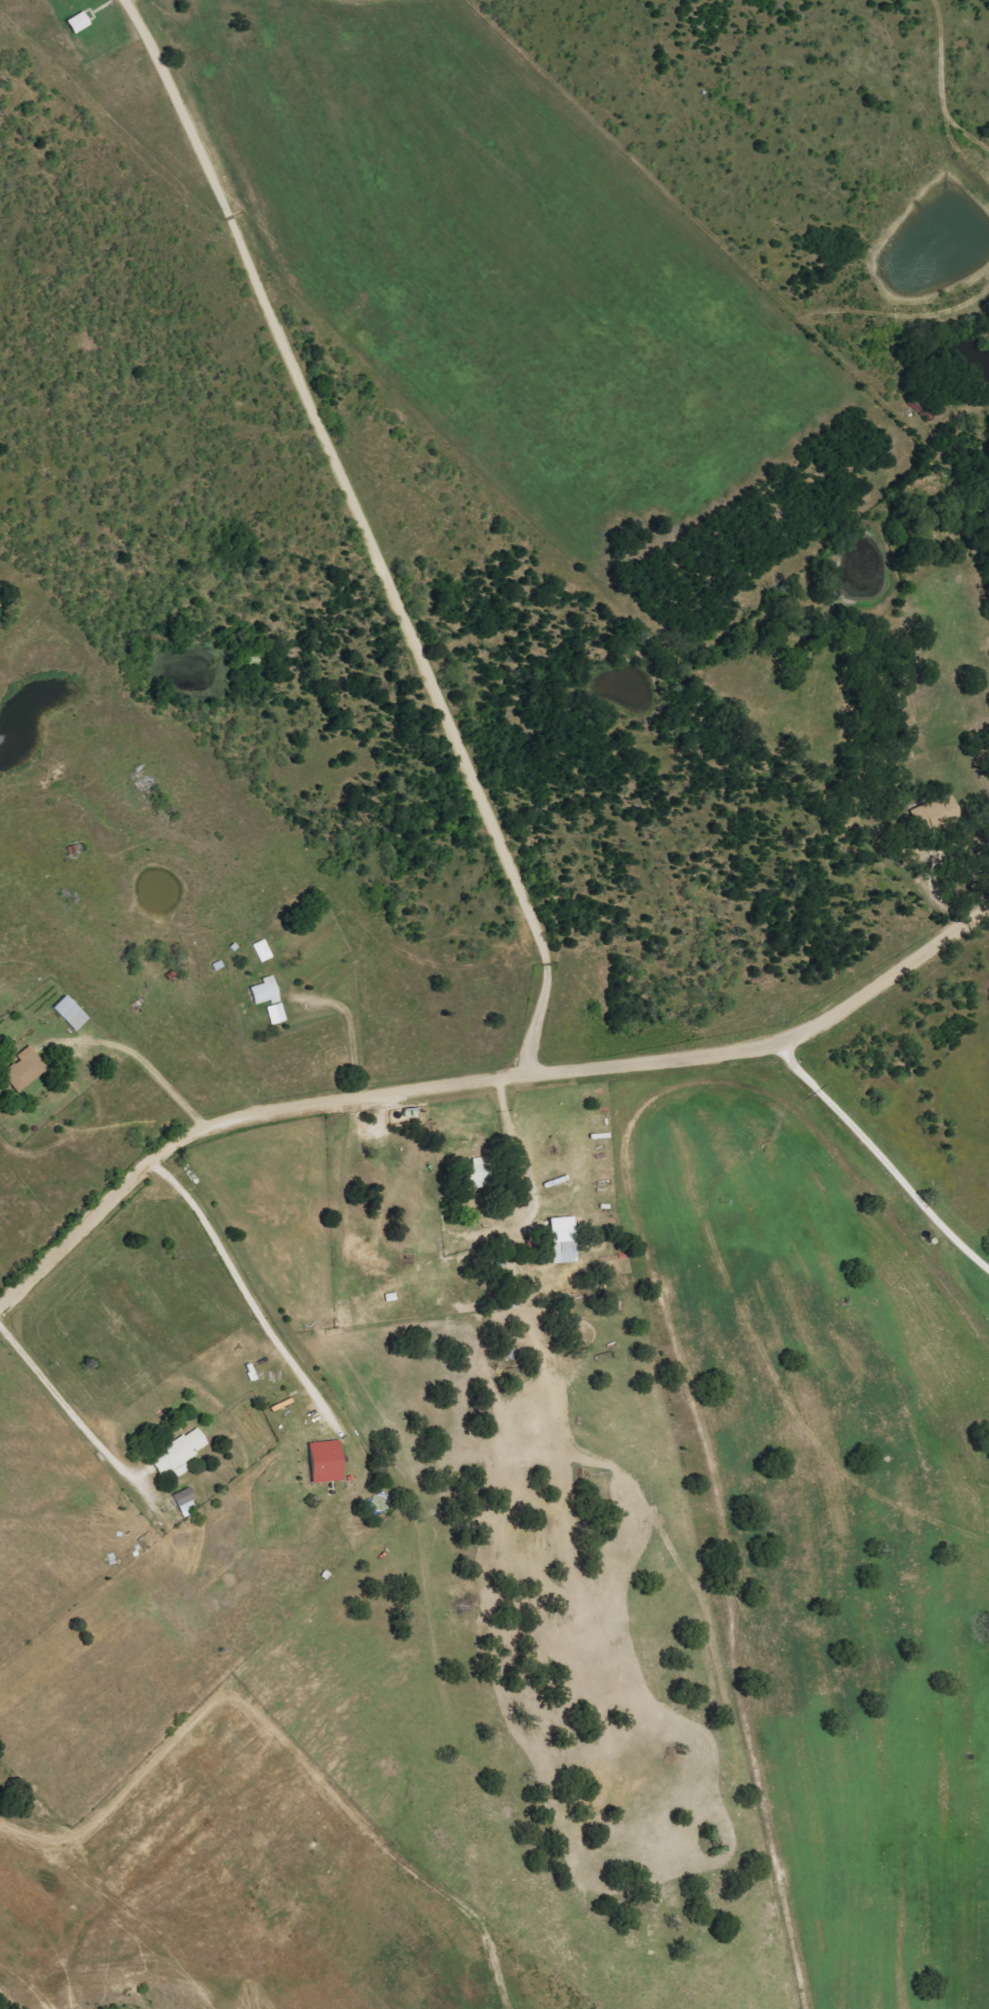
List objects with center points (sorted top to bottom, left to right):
building: (77, 22)
road: (379, 517)
road: (934, 872)
building: (264, 991)
building: (69, 1012)
building: (275, 1013)
road: (349, 1041)
building: (23, 1069)
road: (145, 1072)
road: (479, 1078)
building: (473, 1172)
road: (520, 1236)
building: (562, 1239)
road: (236, 1289)
road: (56, 1403)
building: (178, 1452)
building: (323, 1461)
building: (184, 1500)

